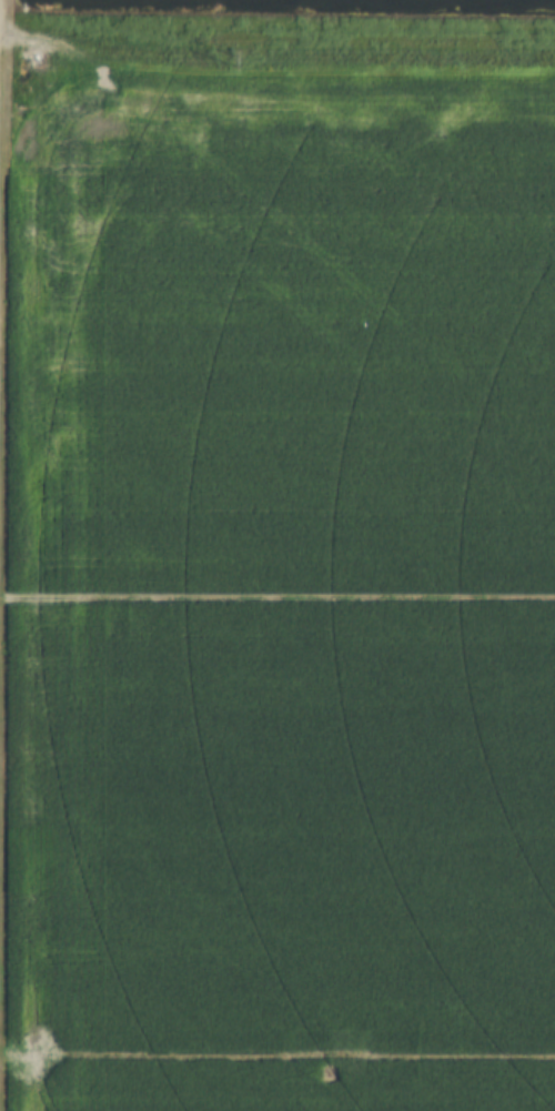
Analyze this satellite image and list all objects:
power tower: (525, 50)

